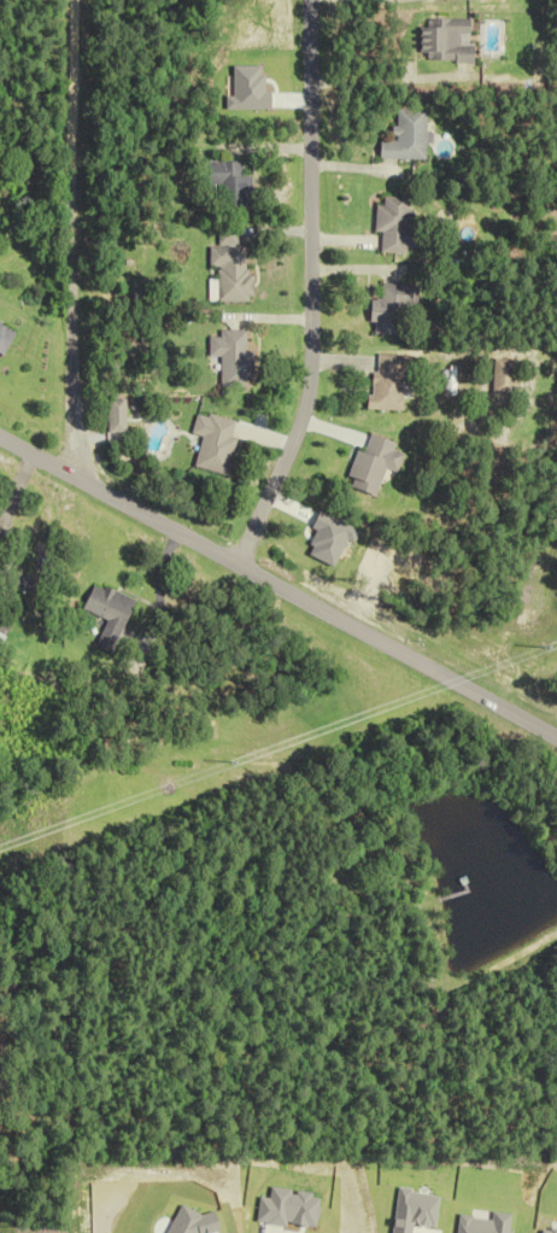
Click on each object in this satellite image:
building: (445, 40)
road: (387, 77)
building: (406, 136)
building: (229, 183)
building: (395, 226)
road: (65, 238)
building: (231, 268)
road: (310, 290)
building: (397, 308)
building: (5, 338)
building: (234, 358)
building: (392, 381)
building: (216, 442)
building: (375, 463)
building: (1, 540)
road: (277, 589)
building: (111, 613)
building: (2, 629)

